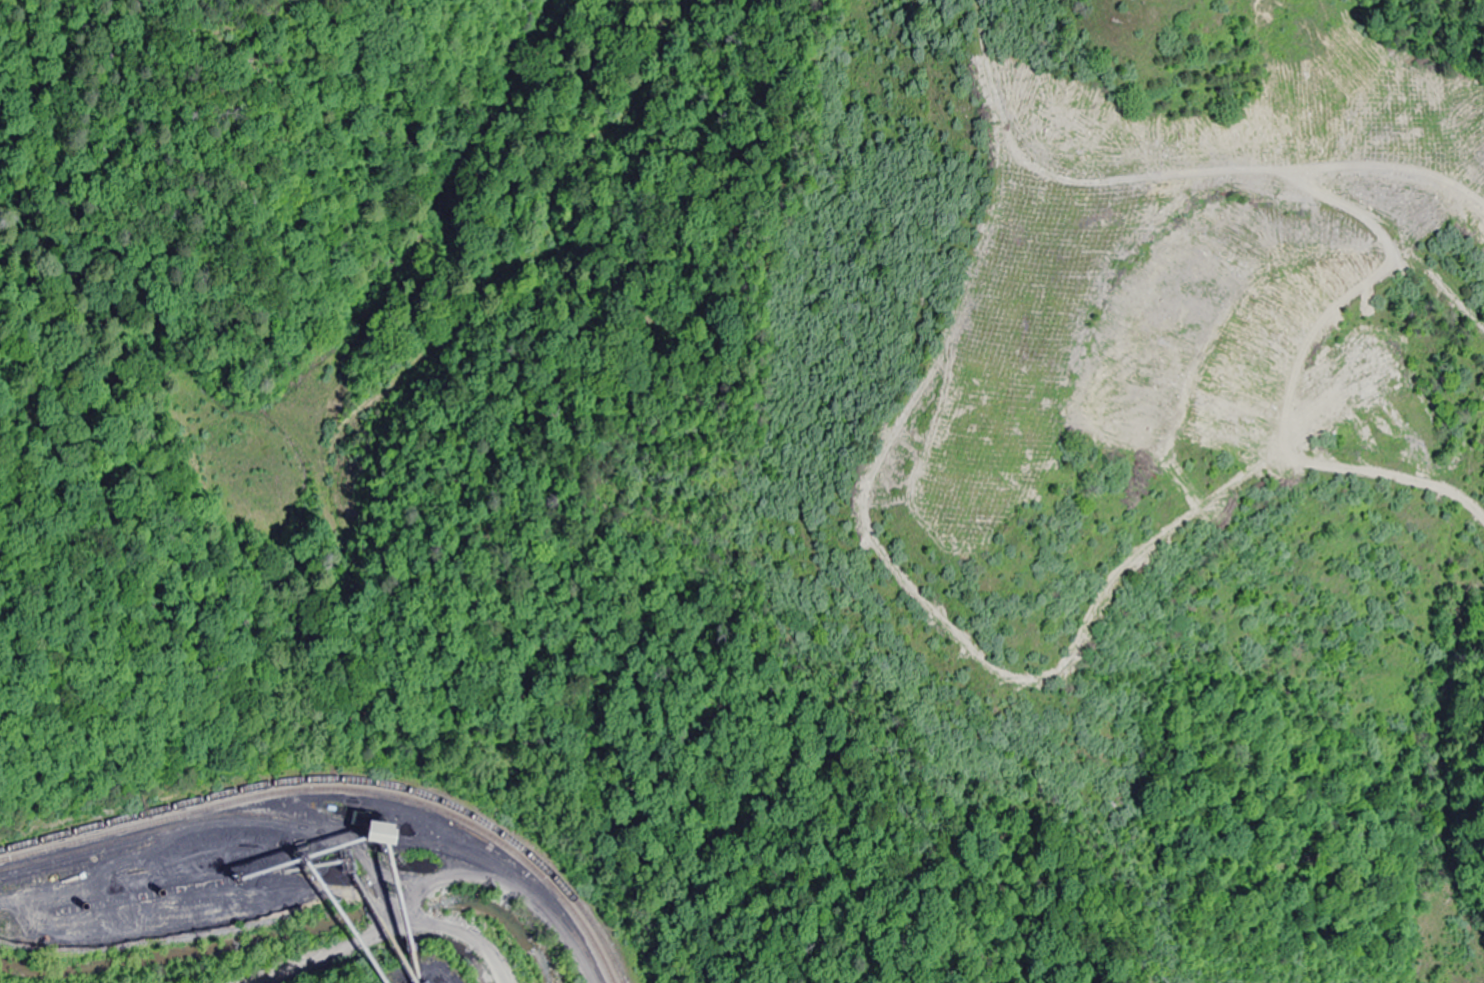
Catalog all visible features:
railway: (342, 788)
road: (394, 928)

